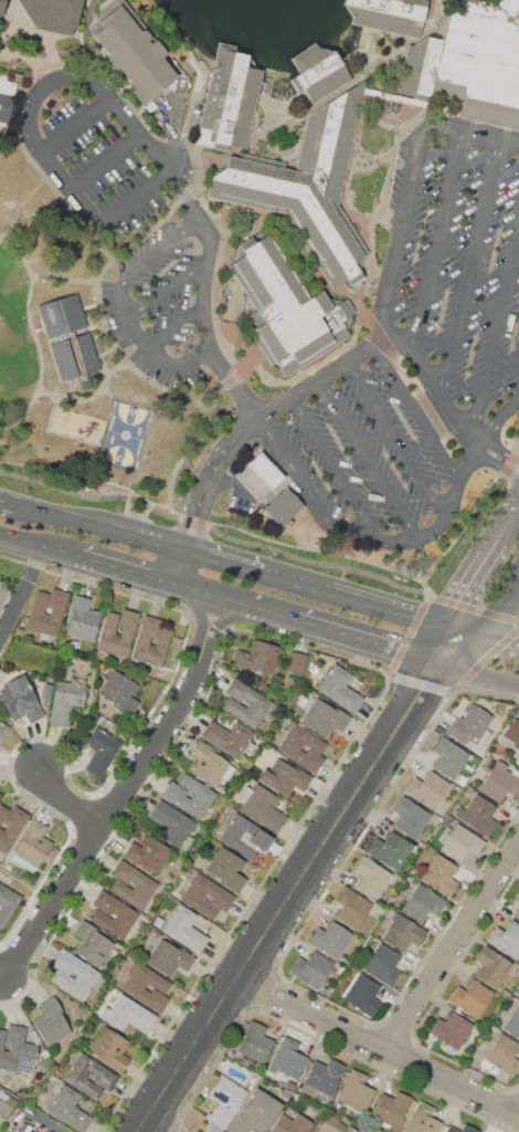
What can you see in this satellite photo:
building: (1, 7)
pier: (357, 10)
building: (53, 14)
building: (389, 14)
road: (87, 40)
building: (130, 49)
pier: (239, 62)
building: (476, 62)
pier: (311, 63)
road: (415, 67)
building: (318, 72)
road: (49, 87)
building: (8, 93)
building: (230, 99)
road: (289, 118)
road: (78, 127)
road: (108, 161)
building: (306, 187)
road: (28, 200)
road: (138, 201)
parking lot: (134, 218)
road: (436, 243)
road: (166, 247)
road: (395, 256)
road: (469, 266)
road: (81, 281)
road: (169, 289)
road: (205, 292)
building: (287, 311)
building: (62, 315)
road: (176, 328)
road: (496, 328)
park: (10, 344)
road: (36, 344)
road: (147, 345)
building: (74, 356)
park: (80, 378)
road: (310, 380)
road: (415, 413)
road: (497, 419)
park: (129, 436)
road: (396, 439)
road: (501, 448)
road: (369, 458)
road: (468, 462)
road: (332, 465)
road: (496, 465)
road: (293, 468)
building: (266, 471)
road: (205, 493)
road: (7, 500)
building: (284, 506)
road: (102, 527)
road: (224, 537)
road: (409, 541)
road: (41, 546)
road: (225, 564)
road: (483, 569)
road: (130, 573)
building: (0, 578)
building: (0, 583)
road: (295, 584)
building: (2, 595)
road: (23, 597)
road: (239, 604)
building: (0, 606)
building: (57, 609)
road: (390, 610)
building: (83, 619)
building: (107, 630)
road: (487, 635)
road: (485, 637)
building: (142, 640)
road: (369, 641)
road: (444, 646)
building: (258, 657)
building: (297, 663)
road: (479, 677)
building: (339, 688)
building: (120, 690)
building: (20, 699)
building: (67, 699)
building: (258, 704)
building: (325, 717)
building: (473, 729)
building: (3, 731)
building: (512, 732)
building: (231, 738)
building: (303, 747)
building: (100, 751)
building: (448, 757)
building: (210, 763)
building: (284, 777)
building: (463, 779)
building: (500, 782)
building: (428, 788)
road: (127, 794)
building: (203, 797)
road: (72, 800)
building: (261, 807)
building: (3, 813)
building: (477, 815)
building: (410, 817)
building: (172, 824)
building: (12, 827)
building: (245, 837)
building: (459, 841)
building: (31, 845)
building: (390, 849)
building: (53, 853)
building: (148, 855)
building: (226, 869)
building: (441, 876)
building: (371, 877)
building: (145, 887)
building: (206, 897)
building: (517, 897)
road: (292, 899)
building: (7, 902)
building: (423, 903)
building: (351, 906)
building: (517, 913)
building: (126, 916)
building: (158, 921)
building: (184, 929)
building: (403, 932)
building: (332, 939)
building: (506, 939)
building: (92, 943)
road: (454, 946)
building: (169, 957)
building: (382, 965)
building: (491, 965)
building: (311, 968)
road: (1, 974)
building: (88, 974)
building: (147, 987)
building: (362, 995)
building: (472, 998)
building: (128, 1015)
building: (51, 1021)
building: (512, 1023)
building: (448, 1031)
building: (255, 1042)
road: (379, 1047)
building: (109, 1049)
building: (17, 1050)
building: (501, 1056)
building: (287, 1058)
building: (324, 1076)
building: (89, 1077)
building: (290, 1084)
building: (356, 1091)
building: (286, 1092)
building: (224, 1101)
building: (7, 1105)
building: (67, 1109)
building: (391, 1110)
building: (256, 1113)
building: (423, 1120)
building: (290, 1123)
building: (336, 1124)
building: (24, 1128)
road: (150, 1129)
building: (462, 1129)

